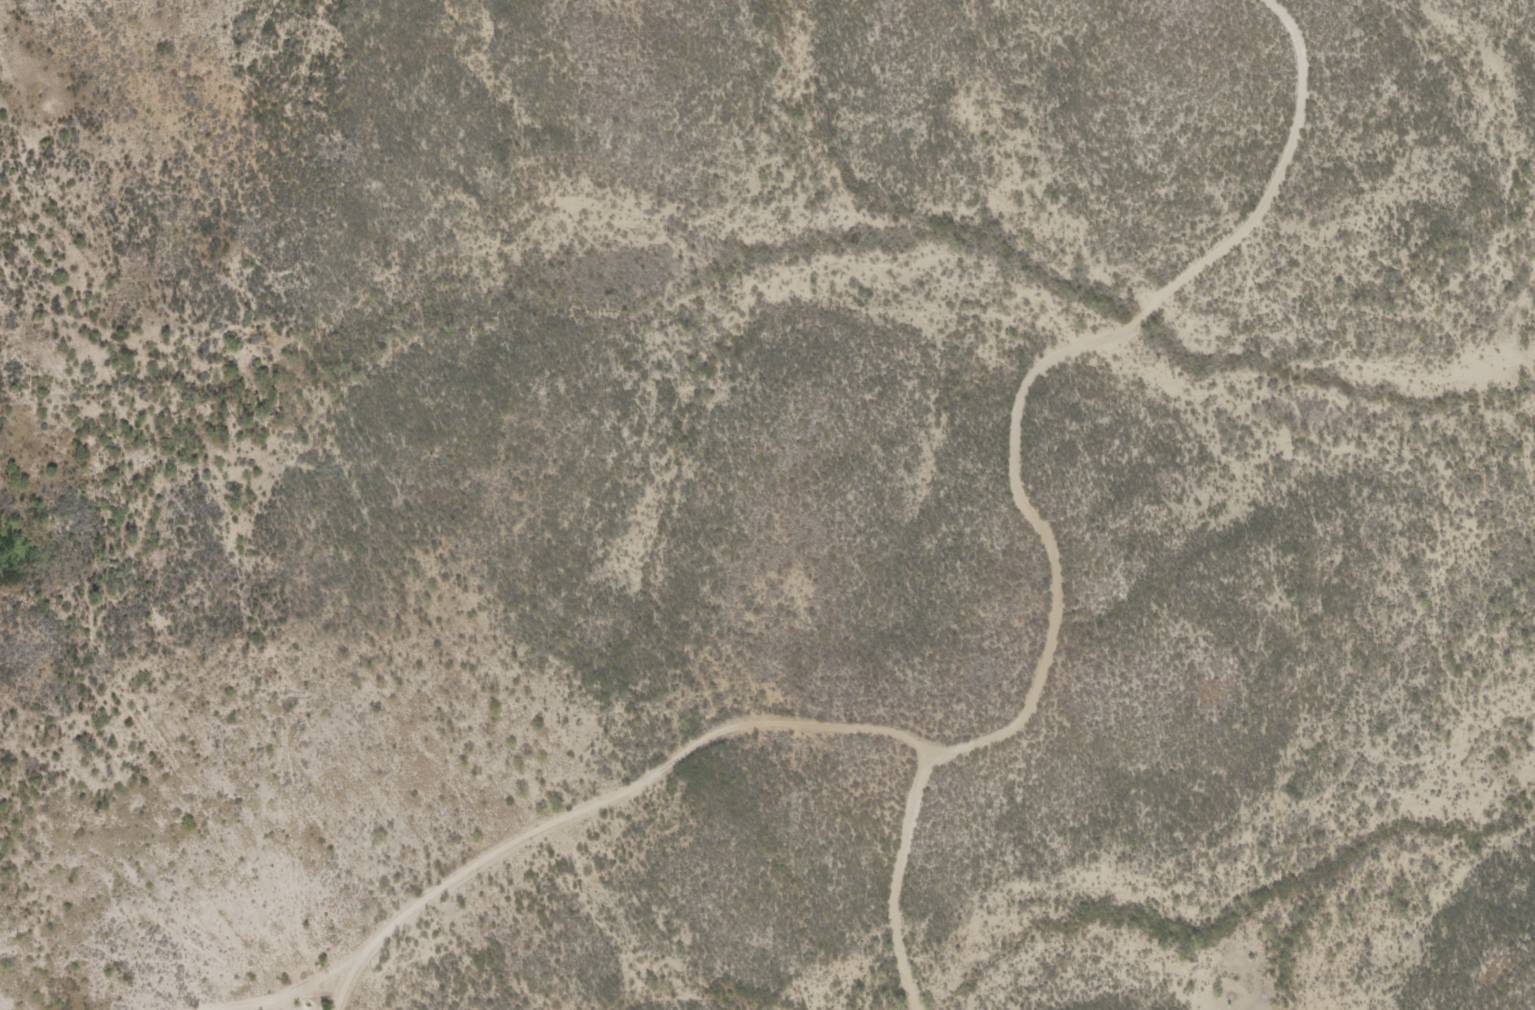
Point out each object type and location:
road: (1033, 669)
road: (904, 878)

